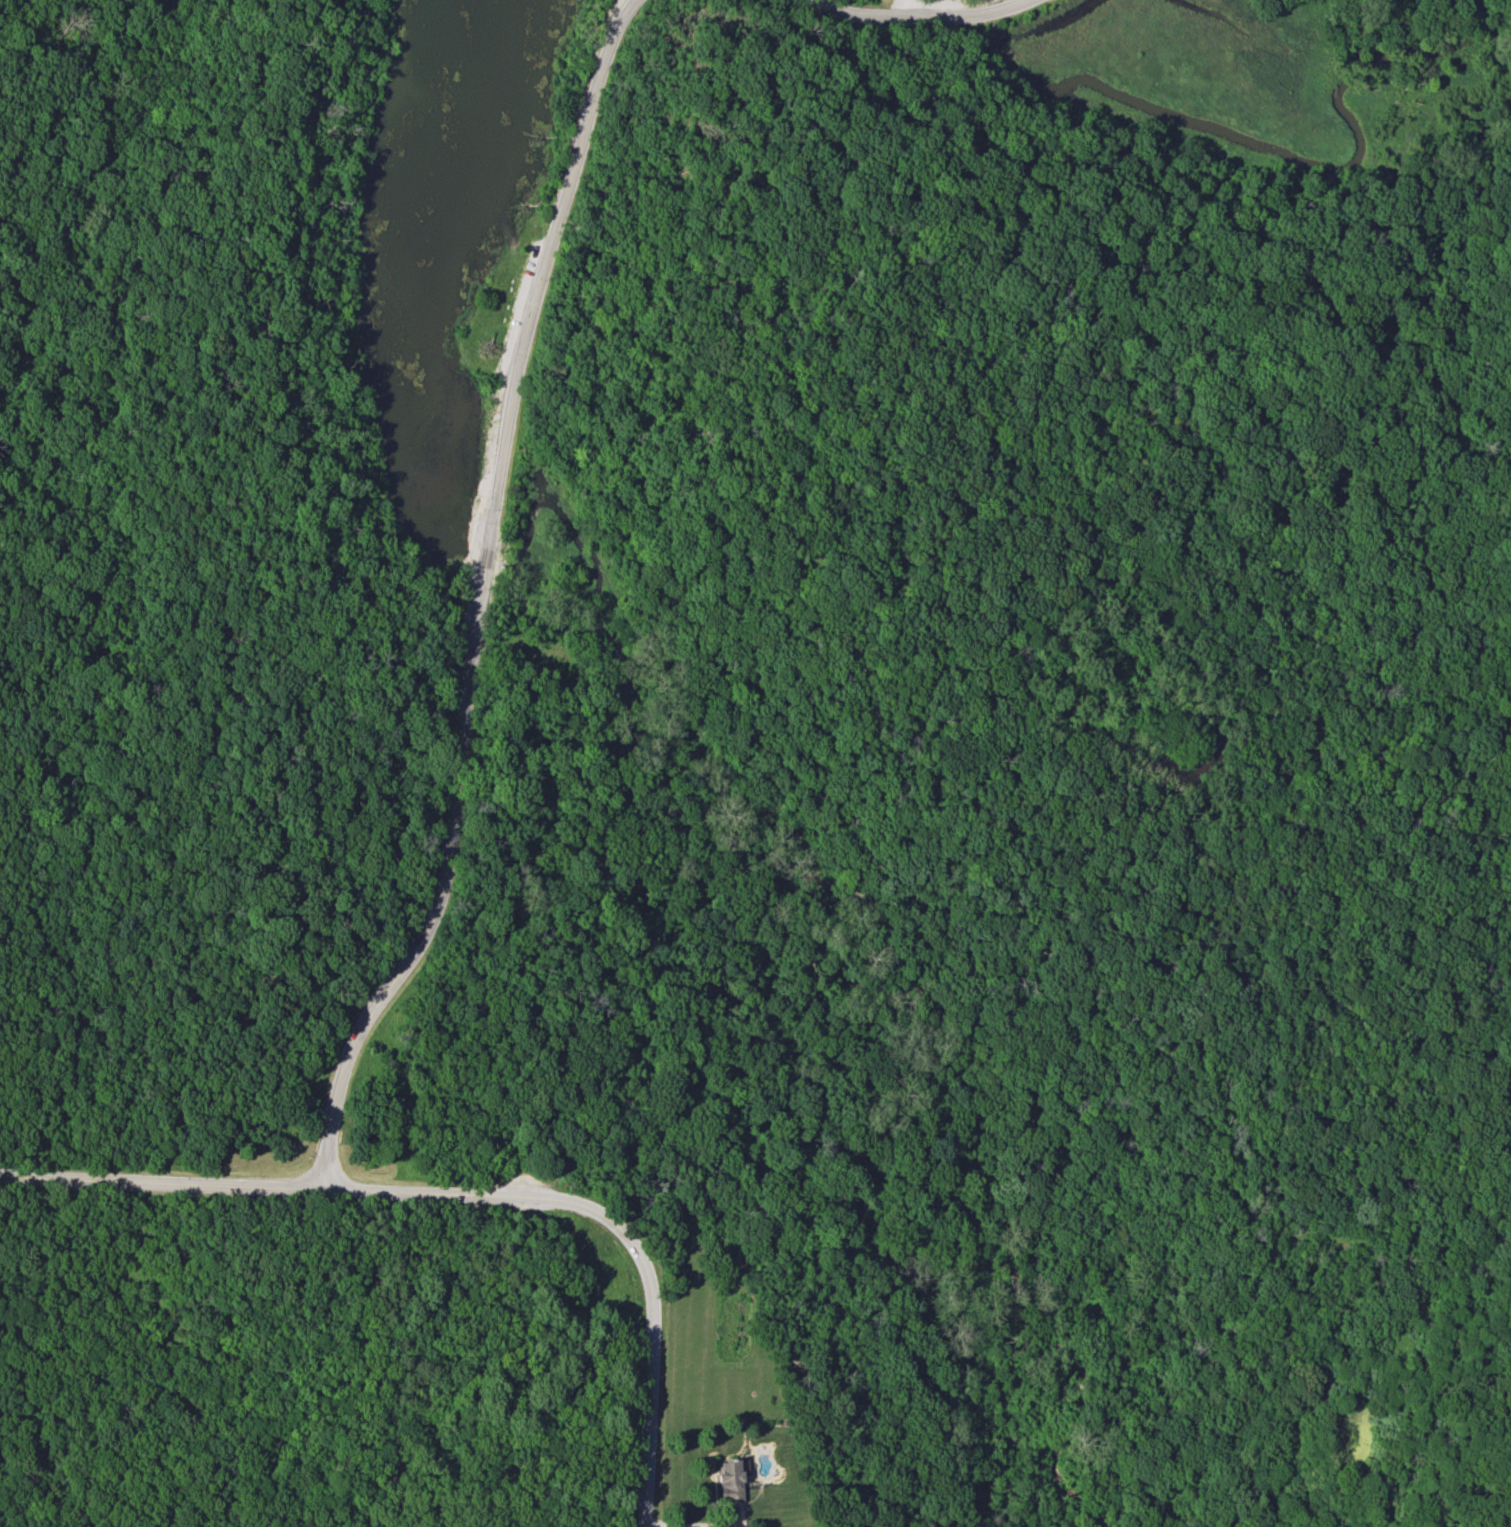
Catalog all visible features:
road: (939, 10)
road: (107, 301)
parking lot: (507, 382)
road: (11, 427)
road: (1390, 517)
road: (257, 519)
road: (474, 598)
park: (714, 685)
road: (112, 737)
park: (1015, 743)
road: (903, 1161)
road: (161, 1179)
road: (616, 1231)
park: (769, 1435)
building: (728, 1480)
road: (732, 1522)

